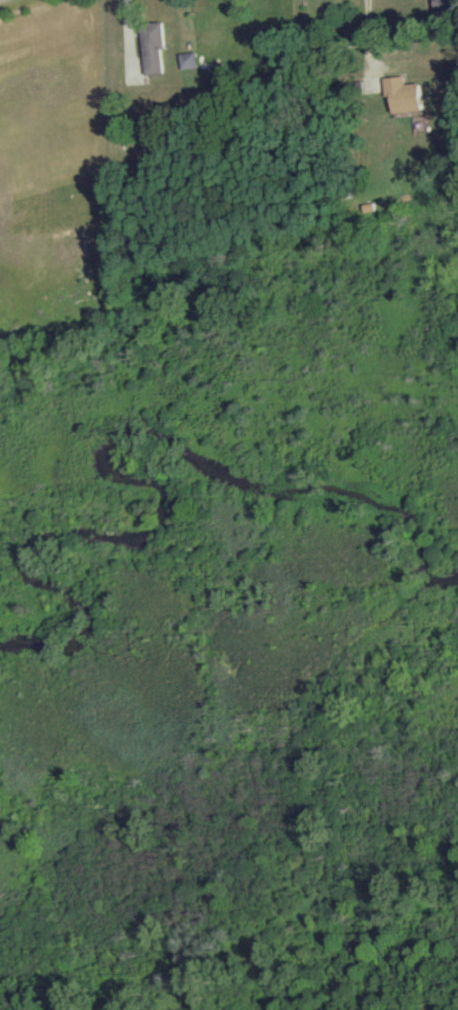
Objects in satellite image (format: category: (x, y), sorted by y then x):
building: (448, 4)
road: (369, 37)
building: (154, 47)
building: (189, 59)
building: (408, 94)
building: (161, 139)

